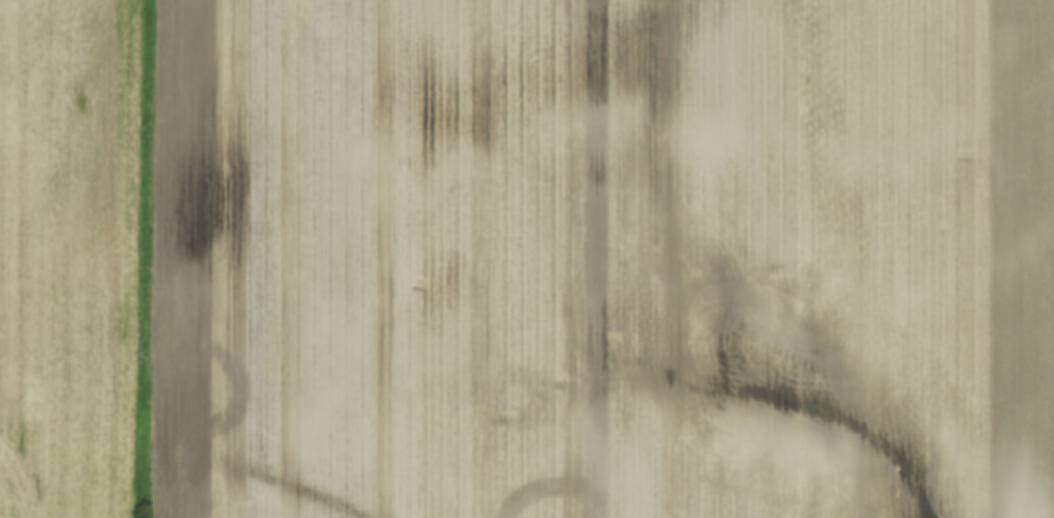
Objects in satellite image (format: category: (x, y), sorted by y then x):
road: (888, 2)

